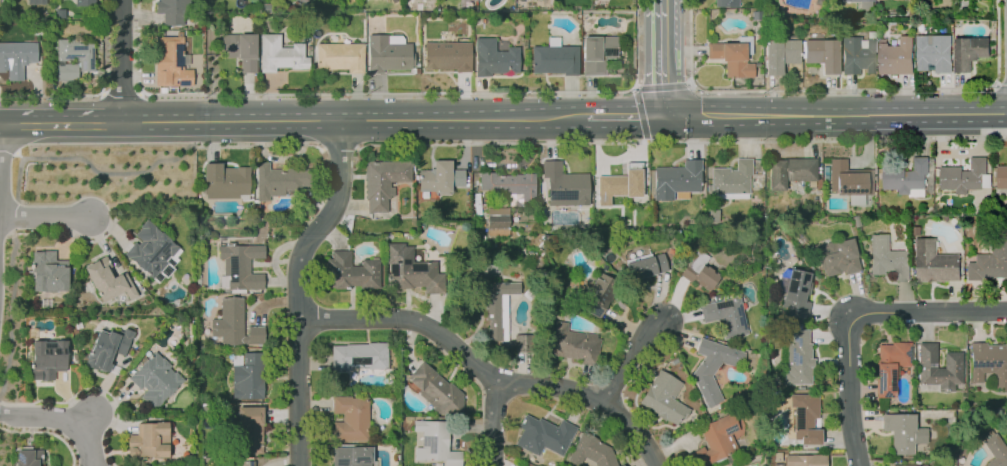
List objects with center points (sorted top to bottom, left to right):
building: (308, 0)
building: (36, 1)
building: (302, 1)
building: (83, 2)
building: (819, 2)
building: (727, 3)
building: (862, 3)
building: (173, 11)
building: (769, 13)
building: (756, 15)
building: (922, 26)
building: (746, 43)
building: (242, 50)
building: (76, 51)
road: (685, 51)
building: (972, 52)
building: (388, 53)
building: (936, 53)
building: (281, 54)
building: (599, 54)
building: (822, 54)
building: (780, 55)
building: (859, 55)
building: (448, 56)
building: (16, 57)
building: (341, 57)
road: (663, 57)
building: (898, 57)
building: (495, 58)
building: (555, 58)
building: (732, 58)
road: (120, 61)
building: (172, 61)
building: (66, 71)
building: (757, 72)
road: (1001, 83)
road: (841, 90)
road: (387, 92)
road: (965, 92)
road: (944, 93)
road: (829, 94)
road: (849, 94)
road: (904, 94)
road: (773, 95)
road: (835, 115)
road: (624, 116)
traffic signals: (663, 116)
road: (354, 122)
road: (61, 123)
road: (8, 150)
building: (550, 169)
building: (790, 171)
road: (111, 173)
building: (907, 176)
building: (964, 176)
building: (440, 177)
building: (1002, 177)
building: (730, 178)
building: (850, 179)
building: (674, 180)
building: (225, 181)
building: (279, 181)
building: (382, 181)
building: (510, 184)
building: (624, 184)
building: (542, 187)
building: (568, 189)
road: (45, 218)
building: (151, 249)
building: (837, 257)
building: (888, 258)
building: (936, 263)
building: (990, 263)
building: (241, 266)
building: (644, 267)
building: (411, 270)
building: (48, 271)
building: (351, 271)
building: (701, 276)
building: (109, 280)
road: (298, 288)
building: (796, 292)
building: (598, 295)
building: (494, 304)
building: (725, 316)
road: (856, 317)
building: (234, 325)
building: (523, 343)
building: (573, 344)
road: (455, 347)
building: (107, 349)
road: (630, 352)
building: (360, 356)
building: (47, 358)
building: (798, 359)
building: (989, 363)
building: (890, 366)
building: (713, 368)
building: (938, 368)
building: (247, 376)
building: (155, 380)
building: (436, 391)
building: (663, 398)
building: (350, 418)
building: (805, 418)
road: (60, 420)
road: (88, 423)
road: (494, 423)
building: (250, 429)
road: (633, 430)
building: (903, 432)
building: (544, 435)
building: (147, 441)
building: (712, 441)
building: (435, 443)
building: (995, 451)
building: (591, 452)
building: (352, 456)
building: (28, 457)
building: (805, 460)
building: (246, 463)
building: (620, 465)
building: (737, 465)
building: (908, 465)

